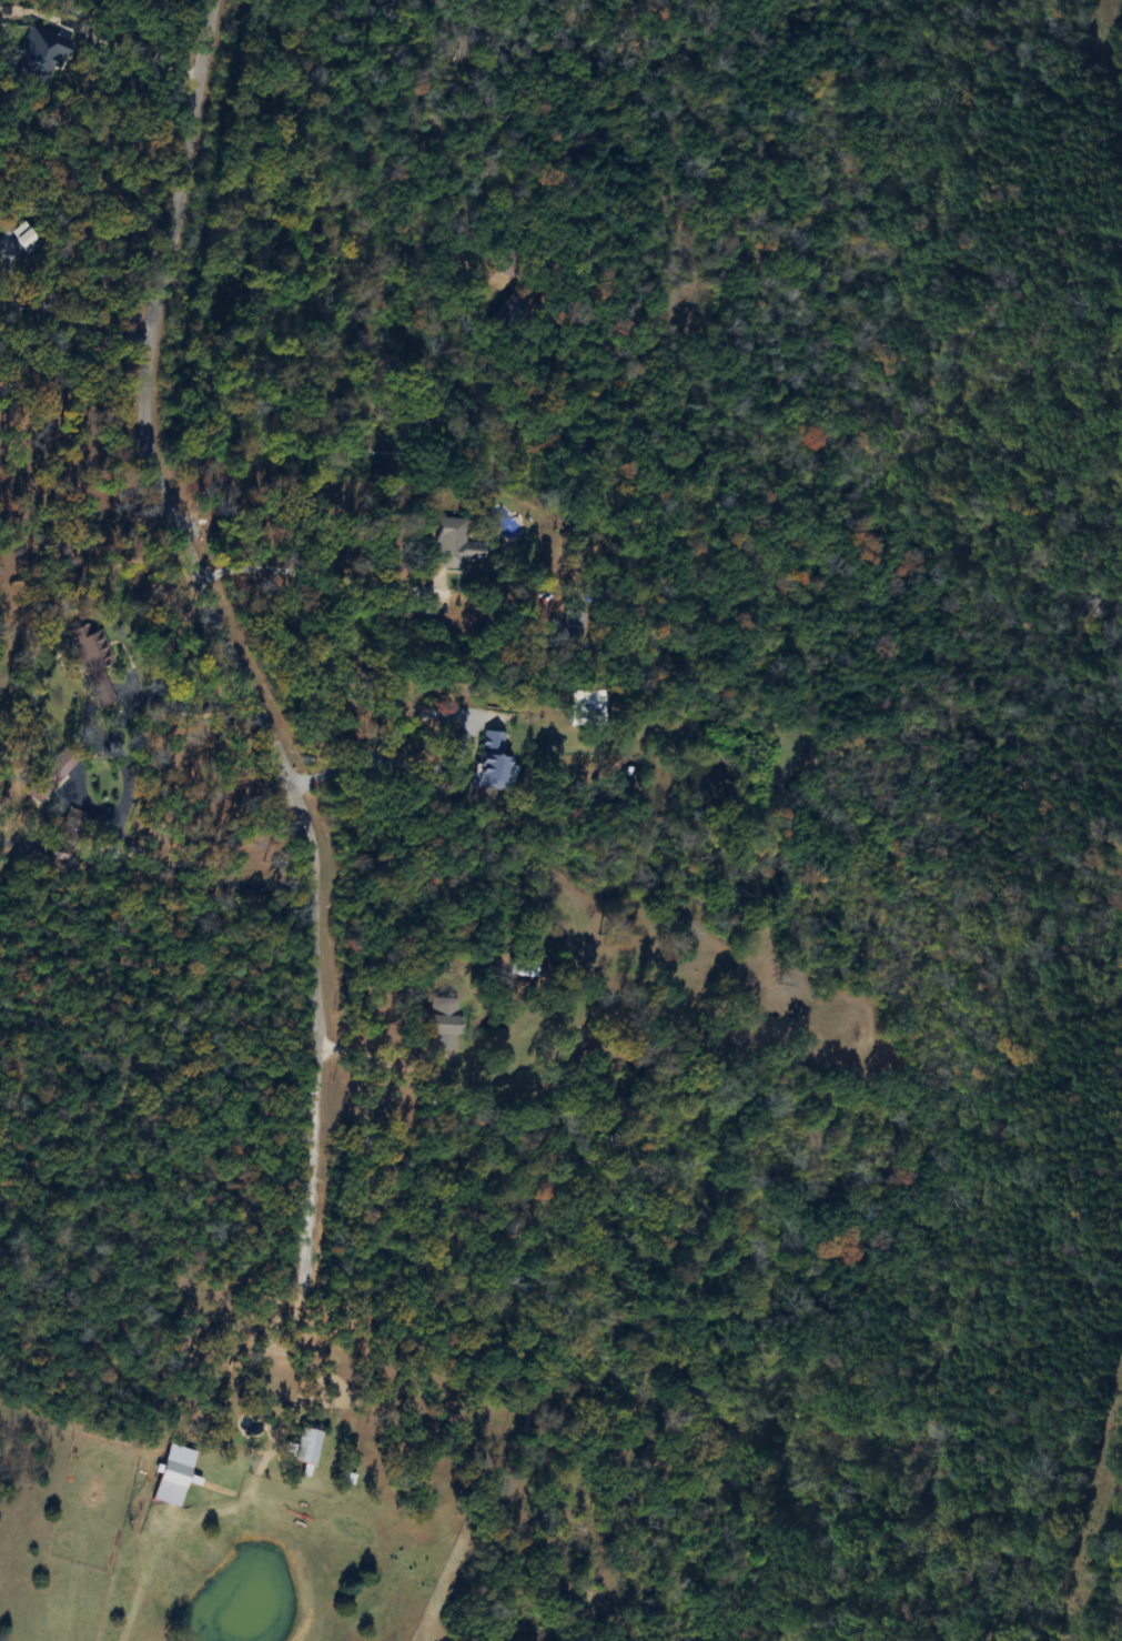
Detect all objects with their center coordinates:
road: (123, 42)
building: (516, 311)
building: (457, 541)
road: (323, 572)
road: (230, 646)
building: (89, 654)
road: (160, 698)
building: (596, 712)
building: (63, 761)
road: (455, 763)
building: (492, 764)
building: (70, 823)
building: (520, 968)
building: (445, 1024)
building: (304, 1442)
building: (170, 1482)

